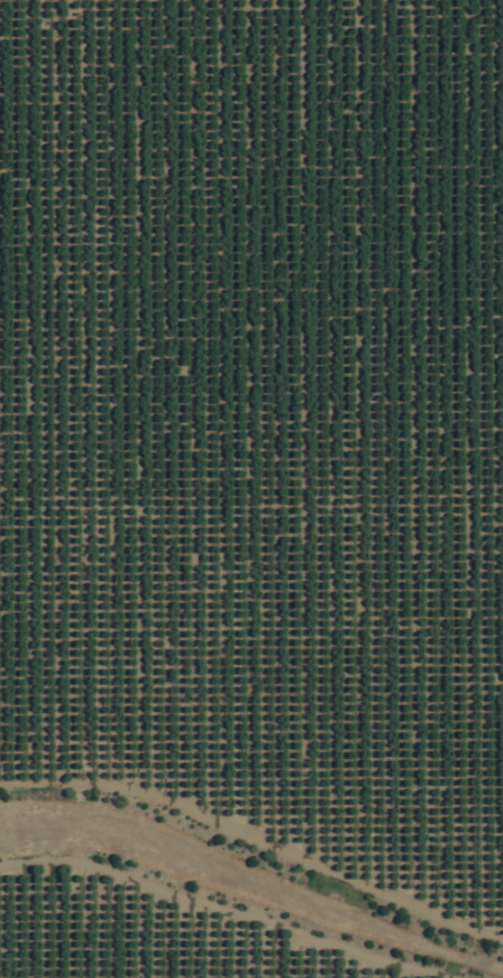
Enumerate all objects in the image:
crop: (251, 489)

